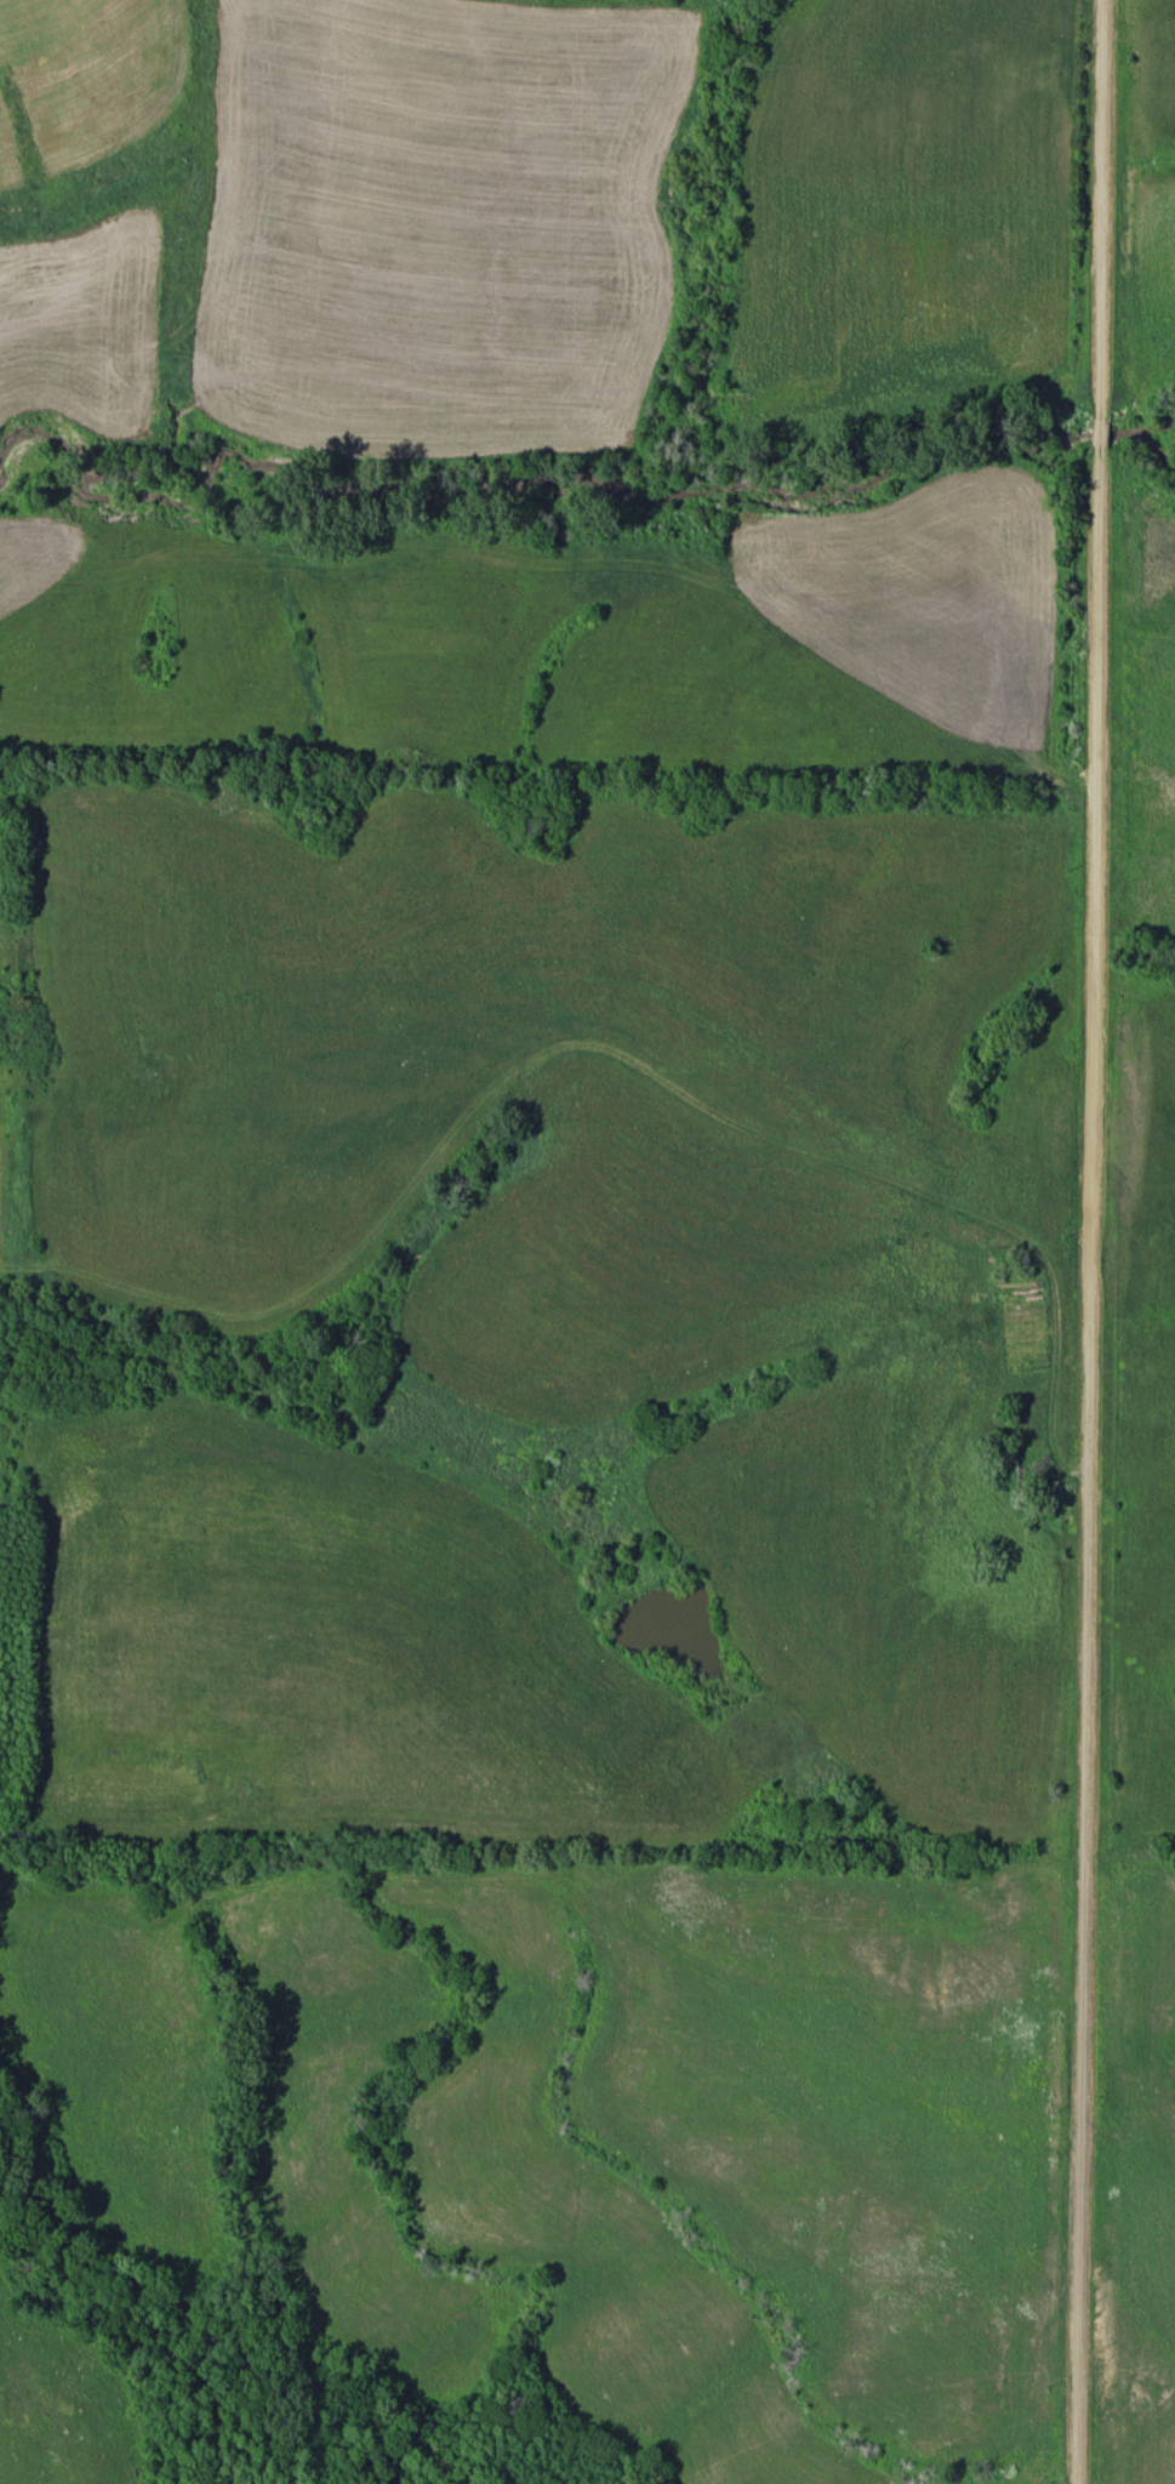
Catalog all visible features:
road: (1082, 1241)

